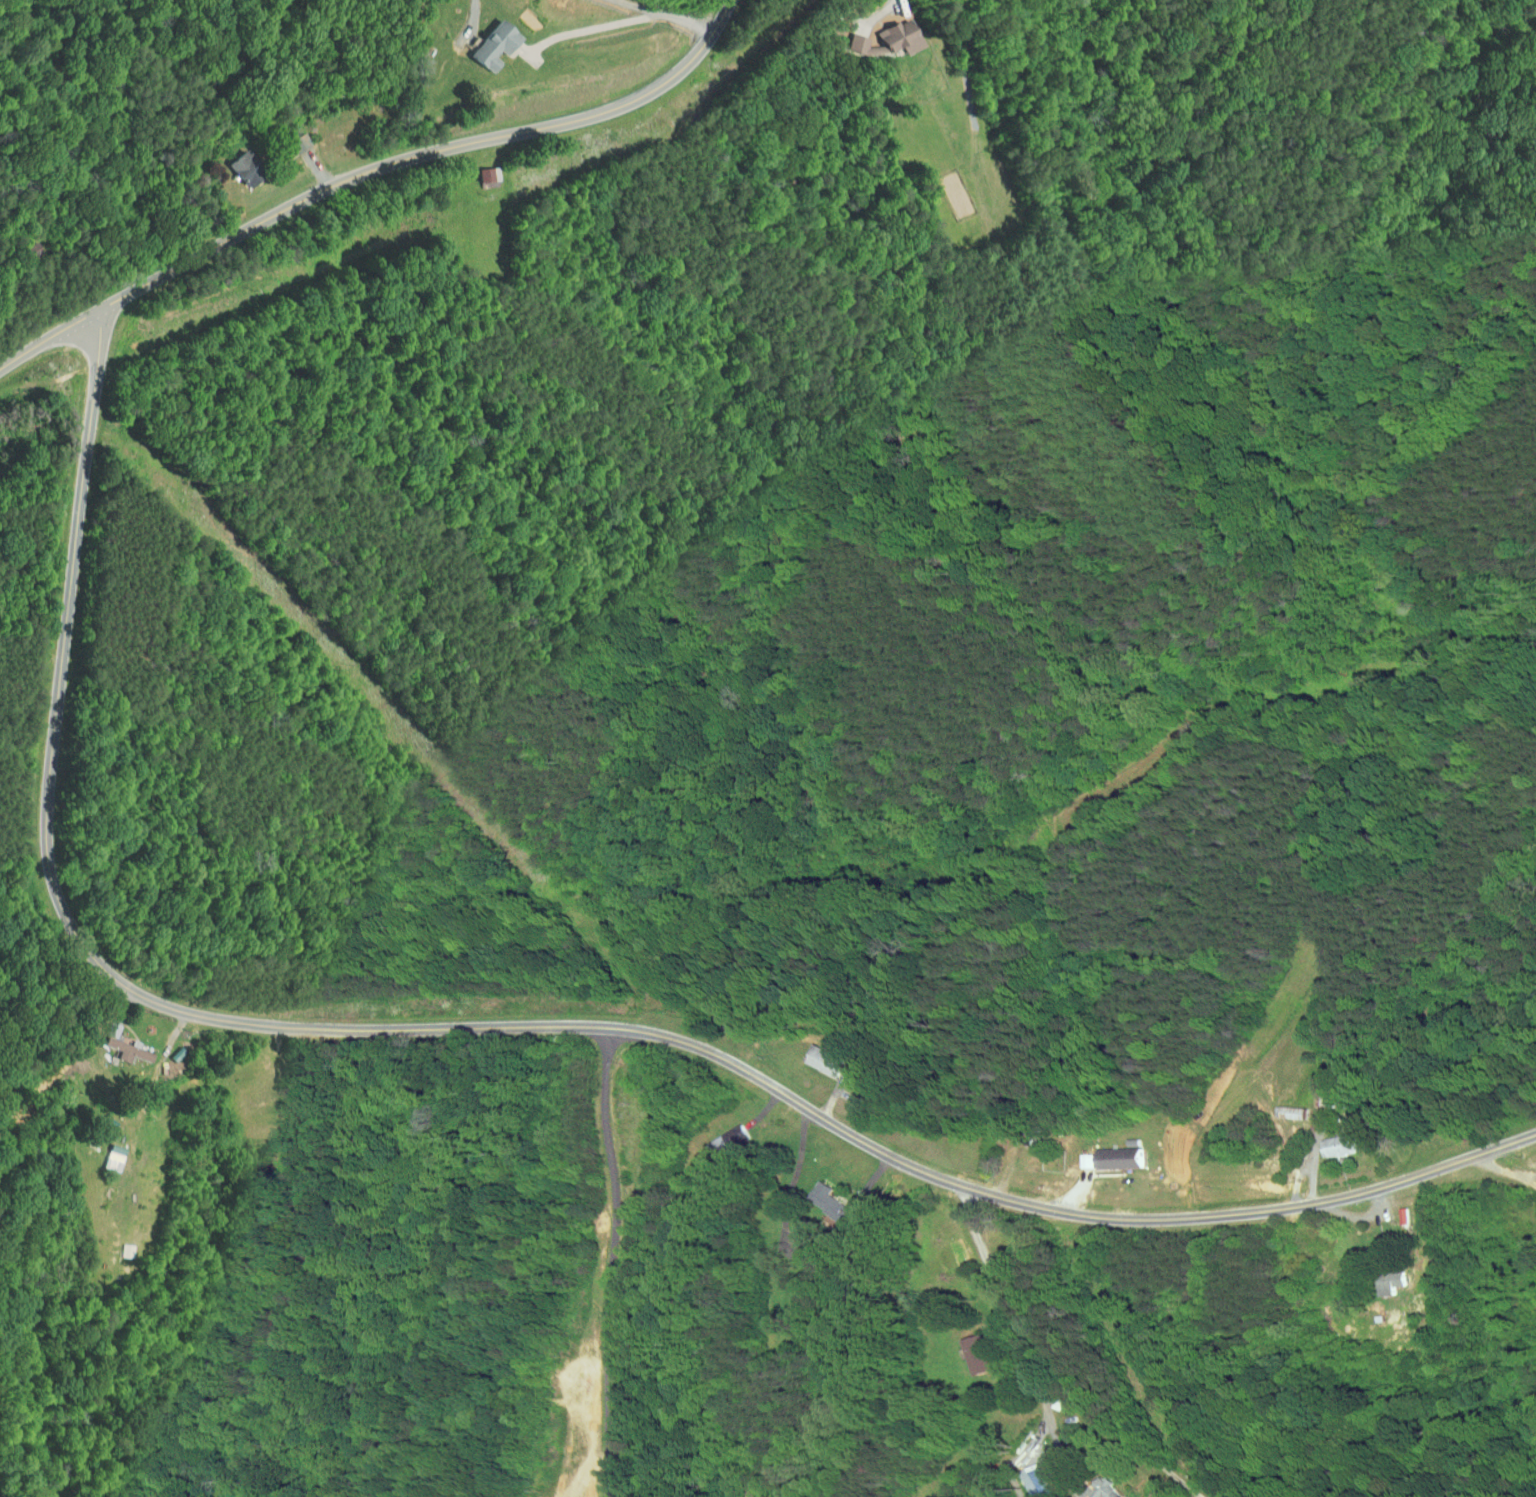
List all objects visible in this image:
road: (621, 22)
building: (885, 34)
building: (497, 41)
building: (239, 162)
road: (363, 165)
building: (481, 169)
road: (499, 1026)
building: (119, 1043)
building: (819, 1055)
building: (719, 1134)
building: (1331, 1139)
building: (1113, 1151)
building: (106, 1152)
building: (1076, 1154)
road: (1505, 1171)
road: (793, 1180)
building: (824, 1198)
building: (1396, 1209)
building: (795, 1223)
road: (612, 1261)
building: (973, 1349)
road: (1042, 1368)
road: (1055, 1427)
building: (1105, 1490)

